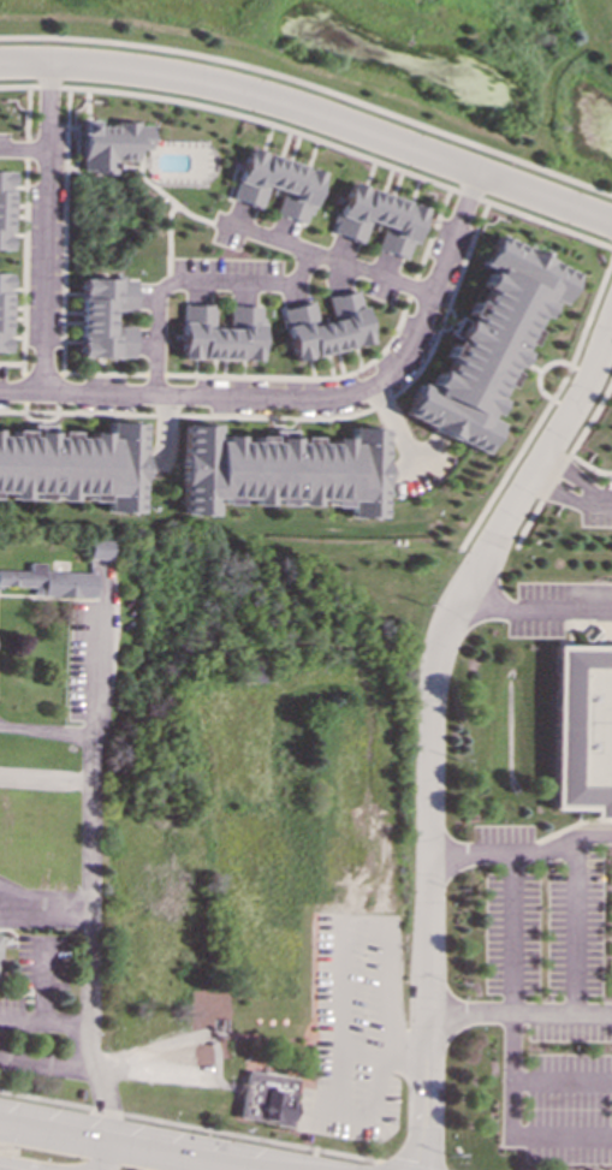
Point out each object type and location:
crop: (511, 17)
road: (313, 84)
road: (313, 112)
road: (311, 138)
building: (109, 144)
road: (25, 149)
building: (277, 184)
building: (4, 209)
building: (378, 219)
road: (48, 226)
road: (254, 281)
building: (2, 310)
building: (105, 316)
building: (326, 326)
building: (220, 333)
building: (488, 343)
road: (308, 396)
road: (549, 406)
road: (394, 422)
road: (166, 429)
road: (564, 463)
building: (75, 465)
building: (283, 470)
road: (571, 474)
road: (560, 491)
road: (599, 500)
building: (99, 548)
building: (49, 581)
road: (534, 606)
road: (47, 726)
road: (429, 729)
building: (583, 732)
road: (521, 855)
road: (90, 880)
road: (572, 930)
road: (510, 936)
road: (380, 988)
road: (334, 1014)
road: (518, 1015)
road: (44, 1022)
parking lot: (353, 1028)
road: (210, 1038)
road: (402, 1049)
road: (48, 1063)
road: (560, 1077)
road: (376, 1081)
building: (267, 1098)
road: (190, 1127)
road: (509, 1127)
road: (28, 1132)
road: (130, 1146)
road: (103, 1158)
road: (29, 1164)
road: (404, 1165)

